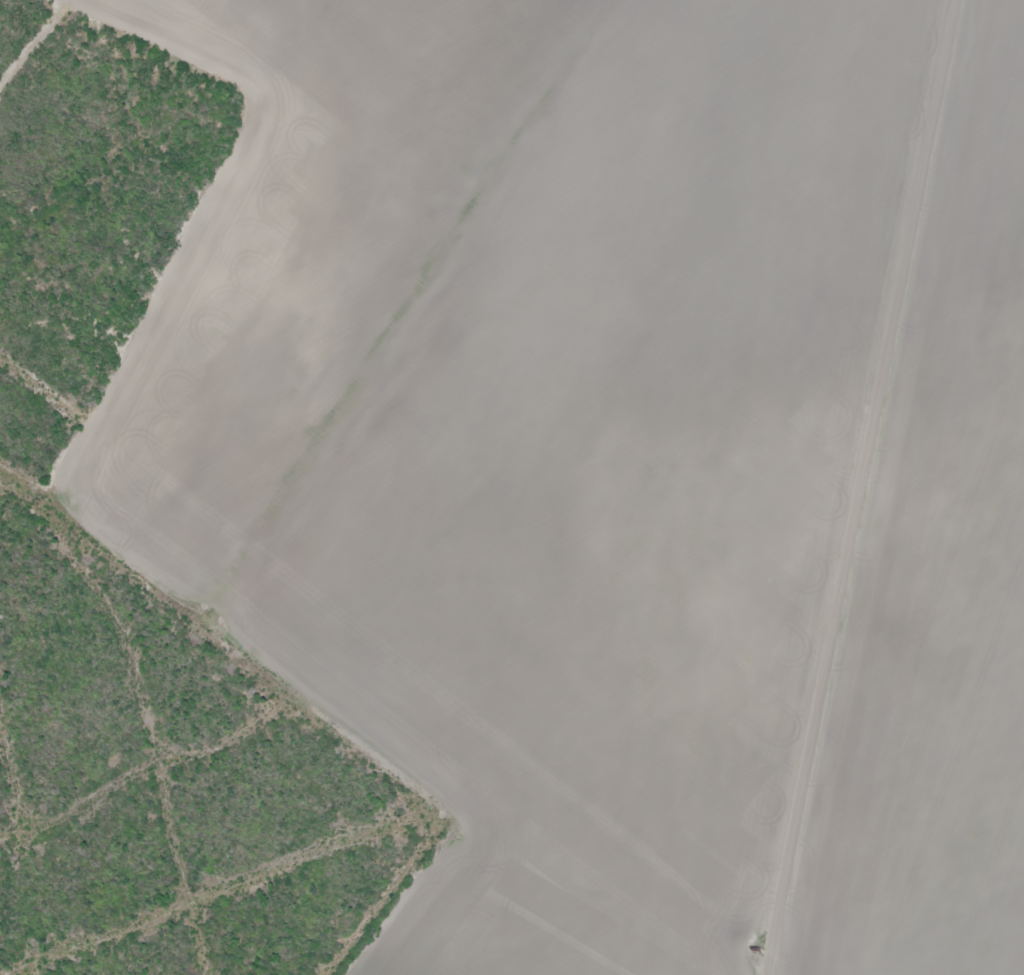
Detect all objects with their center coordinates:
road: (852, 487)

